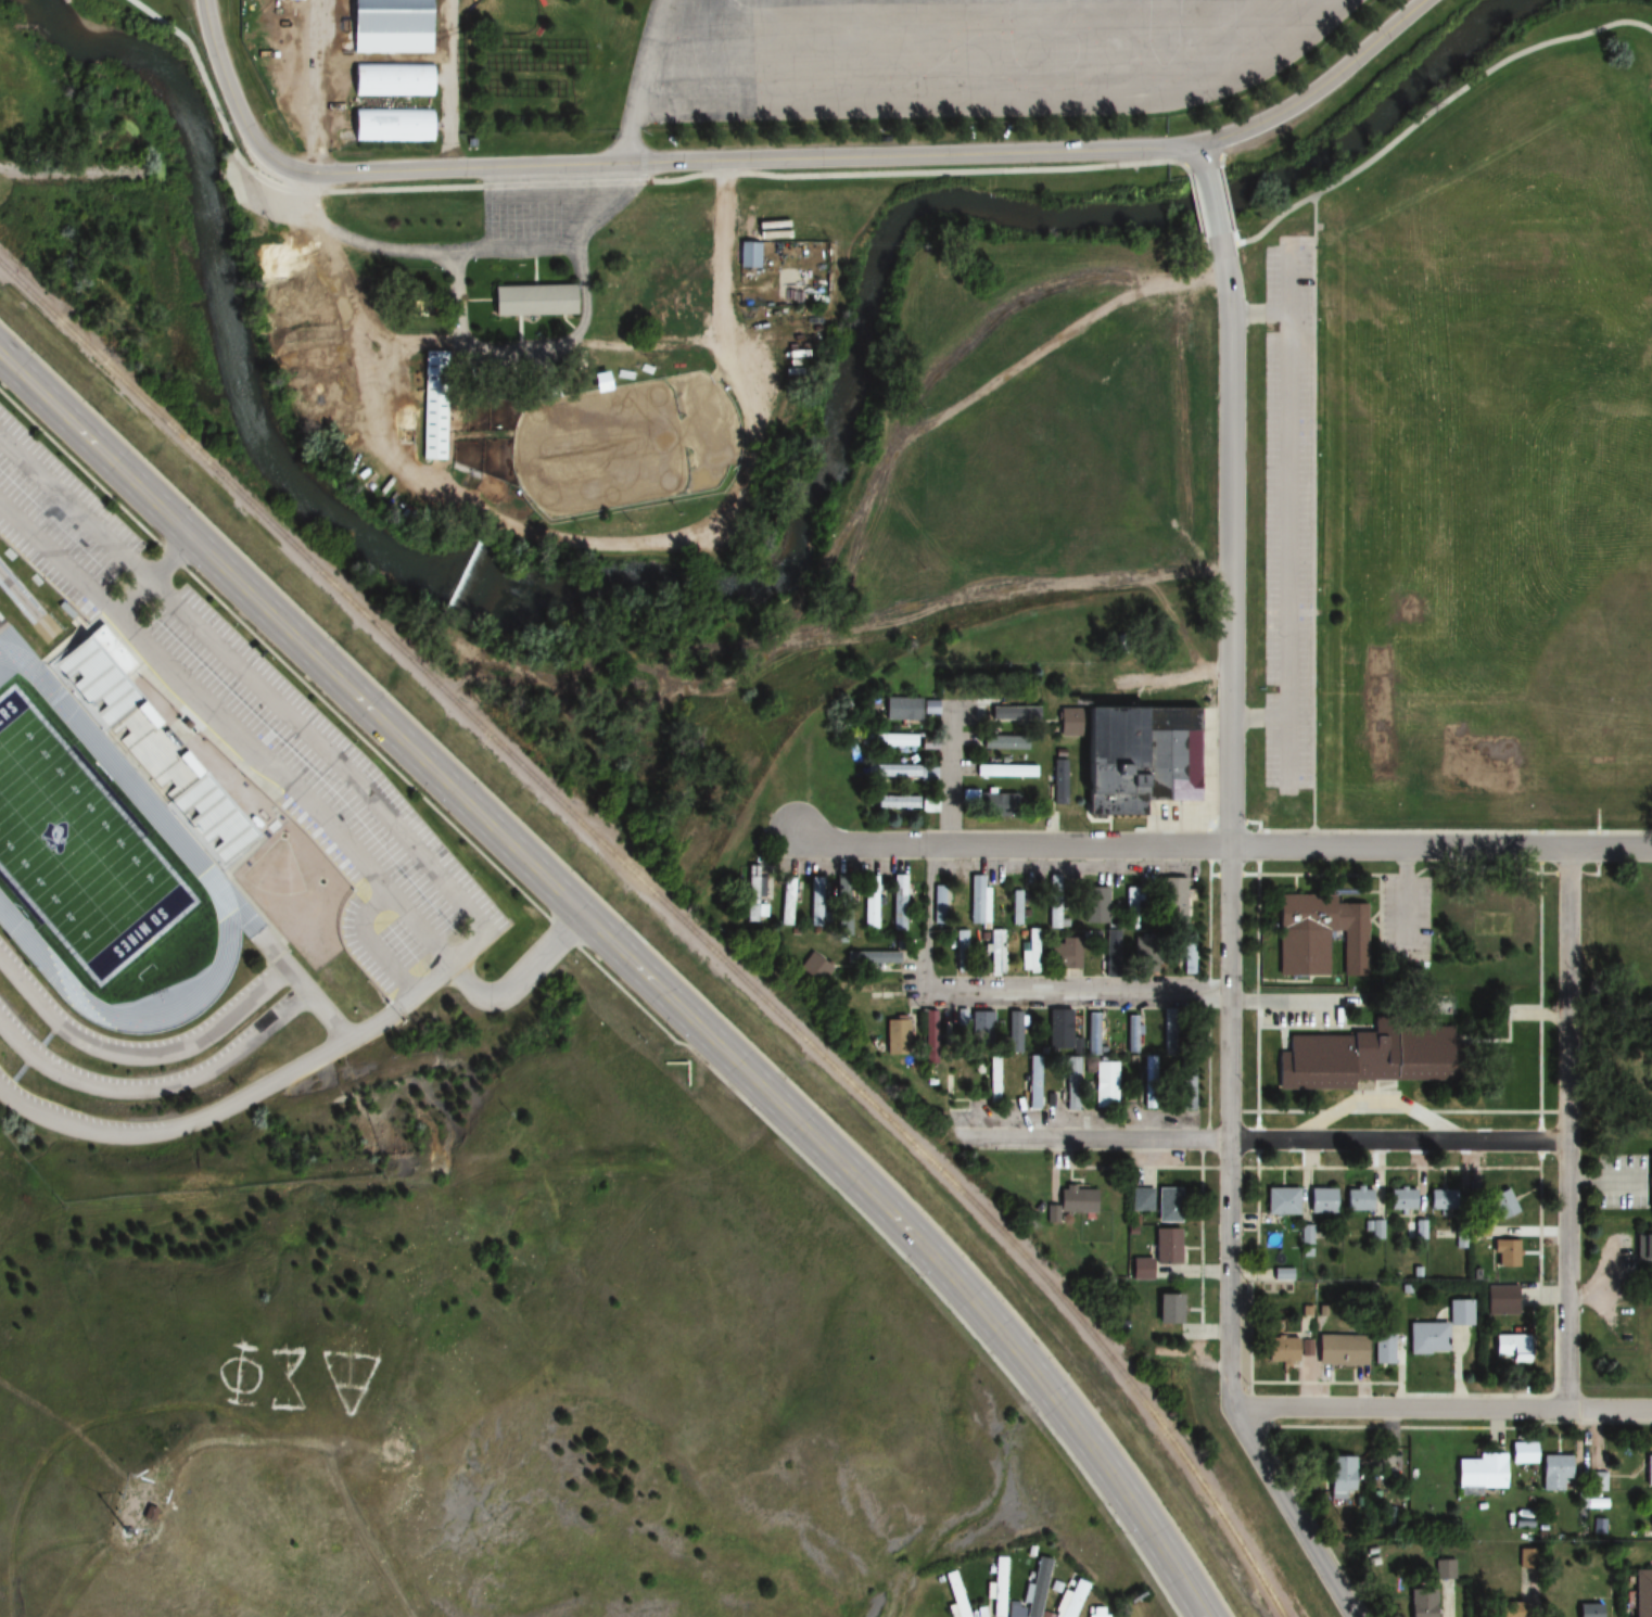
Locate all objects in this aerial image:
building: (389, 27)
road: (168, 28)
building: (391, 80)
road: (228, 87)
building: (390, 126)
road: (874, 158)
road: (1202, 158)
road: (1213, 209)
building: (746, 256)
building: (786, 282)
building: (531, 301)
building: (432, 406)
park: (1491, 458)
river: (750, 575)
road: (153, 577)
building: (891, 708)
building: (1005, 713)
parking lot: (260, 731)
building: (147, 739)
building: (890, 740)
building: (1001, 742)
building: (1131, 757)
building: (891, 772)
building: (1004, 772)
road: (949, 776)
track: (130, 785)
road: (467, 802)
building: (894, 803)
building: (928, 805)
building: (996, 805)
road: (1230, 827)
stadium: (199, 846)
road: (1223, 846)
park: (81, 850)
park: (275, 871)
building: (815, 896)
building: (843, 899)
building: (899, 899)
building: (1132, 900)
building: (787, 901)
building: (873, 901)
building: (1055, 901)
building: (938, 904)
building: (1094, 905)
building: (1015, 907)
railway: (674, 916)
road: (480, 929)
building: (1320, 935)
road: (646, 942)
building: (960, 942)
road: (378, 946)
building: (1029, 951)
building: (995, 952)
building: (1111, 952)
building: (1143, 953)
building: (1187, 953)
building: (1065, 954)
building: (813, 966)
road: (615, 982)
road: (468, 983)
building: (868, 988)
road: (1003, 995)
building: (912, 1004)
building: (984, 1023)
building: (1058, 1028)
building: (1014, 1031)
building: (1092, 1032)
building: (1131, 1033)
building: (895, 1035)
road: (186, 1047)
building: (1363, 1056)
building: (1184, 1070)
building: (992, 1079)
building: (1147, 1081)
building: (953, 1082)
building: (1031, 1082)
building: (1071, 1083)
building: (1104, 1085)
road: (157, 1088)
building: (1186, 1100)
road: (177, 1126)
road: (1568, 1126)
road: (1260, 1139)
building: (1649, 1180)
building: (1401, 1198)
building: (1141, 1199)
building: (1358, 1199)
building: (1440, 1199)
building: (1076, 1200)
building: (1281, 1200)
building: (1320, 1200)
building: (1501, 1204)
building: (1167, 1205)
building: (1642, 1246)
building: (1156, 1253)
building: (1504, 1253)
building: (1500, 1300)
building: (1167, 1308)
building: (1437, 1328)
building: (1509, 1346)
building: (1383, 1348)
building: (1280, 1349)
building: (1339, 1349)
road: (1441, 1408)
road: (1077, 1427)
building: (1522, 1452)
building: (1648, 1470)
building: (1478, 1472)
building: (1553, 1473)
building: (1339, 1474)
building: (1597, 1481)
building: (175, 1505)
road: (1291, 1513)
building: (1650, 1514)
wind turbine: (151, 1527)
building: (1444, 1569)
building: (995, 1587)
building: (1523, 1587)
building: (1031, 1592)
building: (953, 1594)
building: (1642, 1594)
building: (1069, 1599)
building: (1421, 1605)
building: (1589, 1610)
building: (1094, 1612)
building: (1046, 1615)

